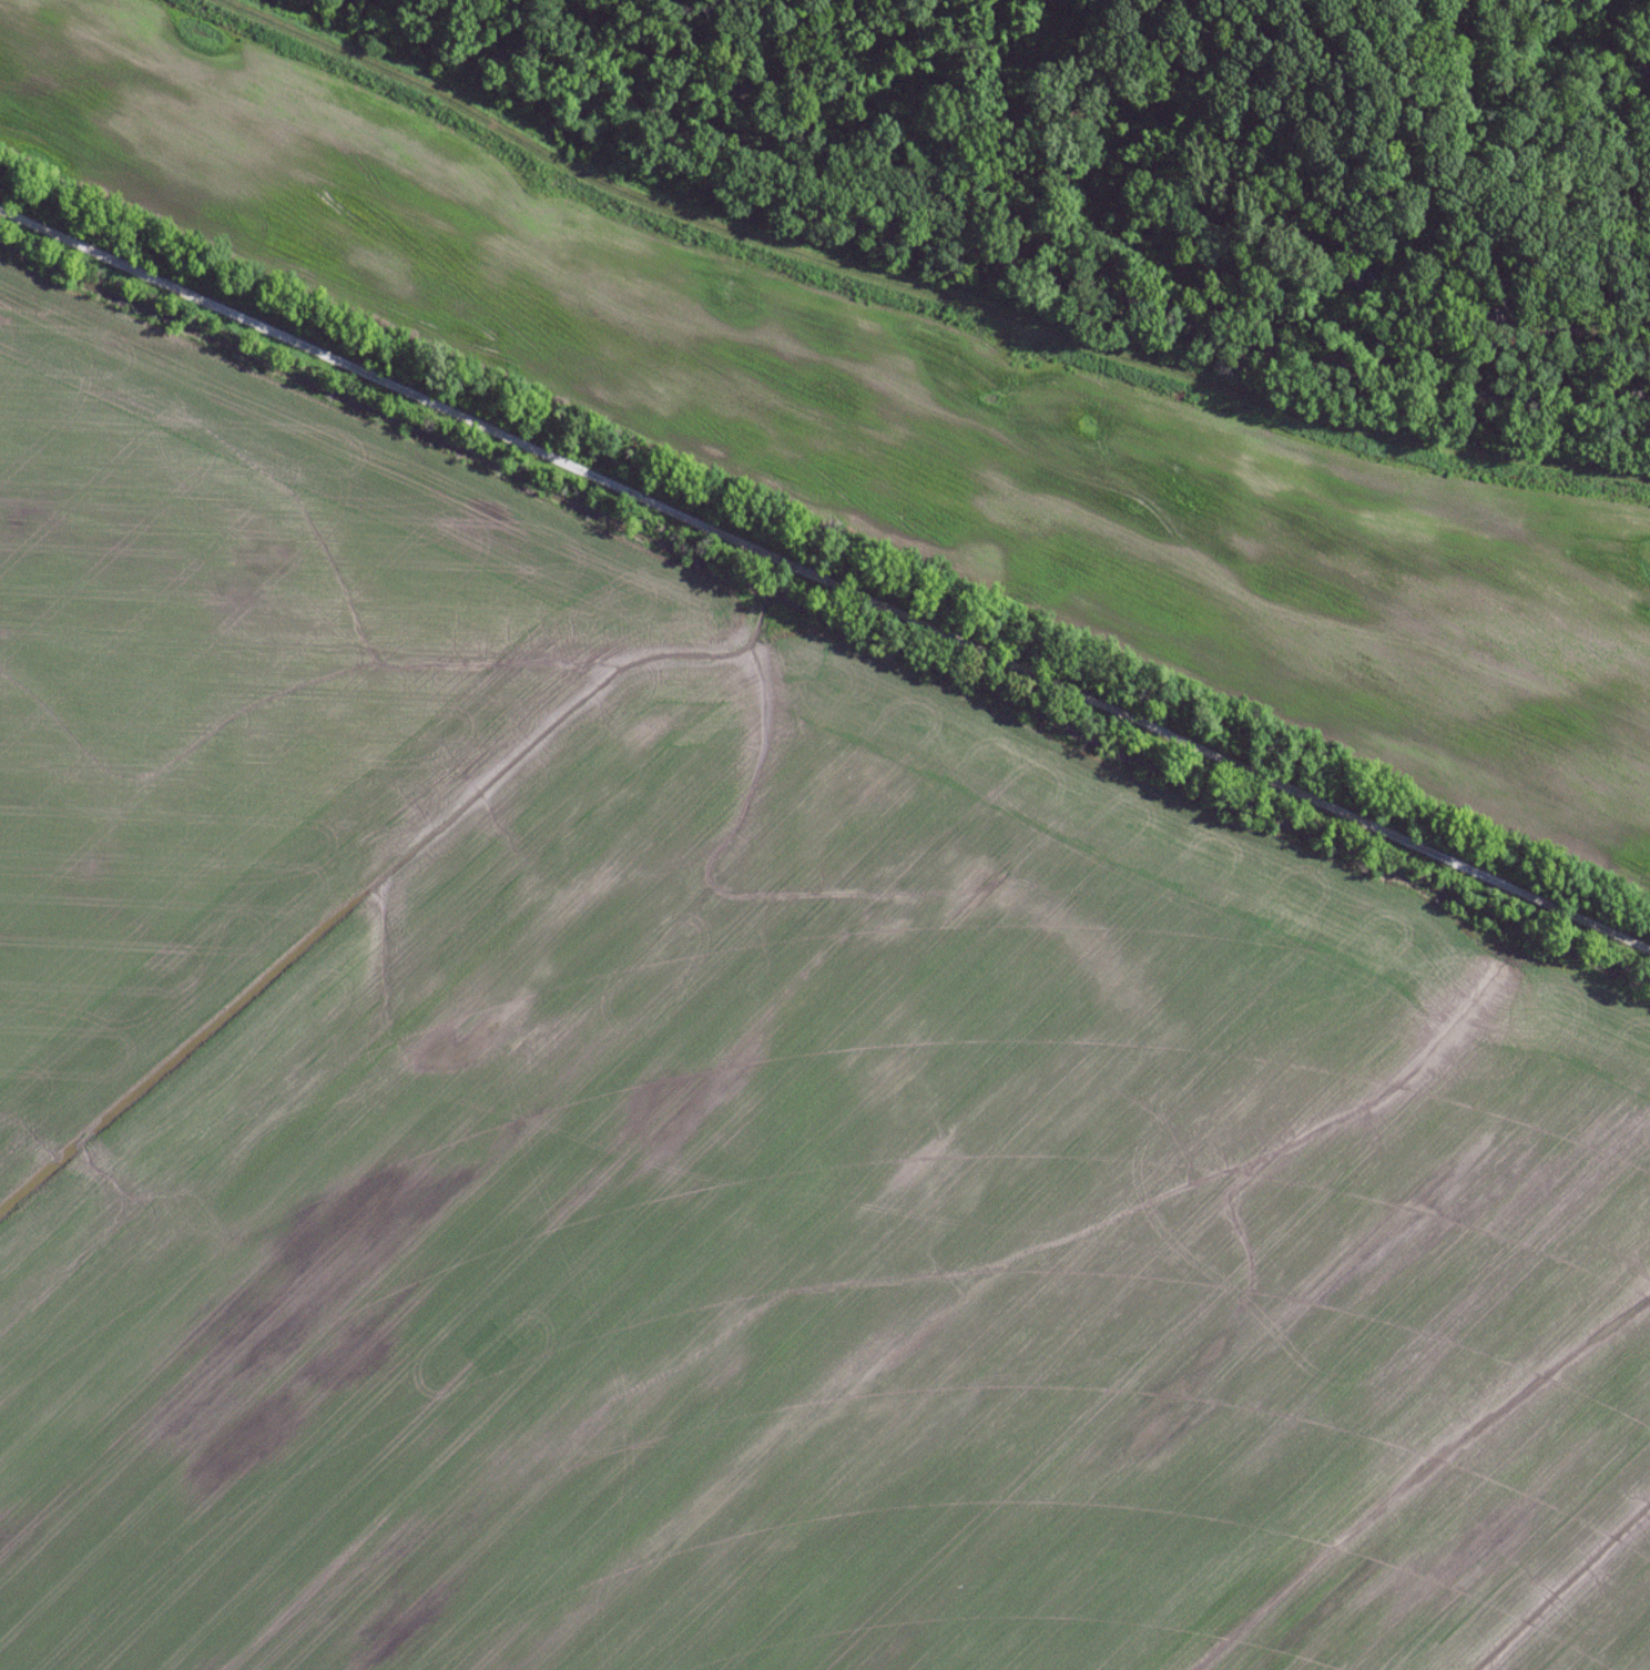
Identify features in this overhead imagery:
road: (824, 582)

